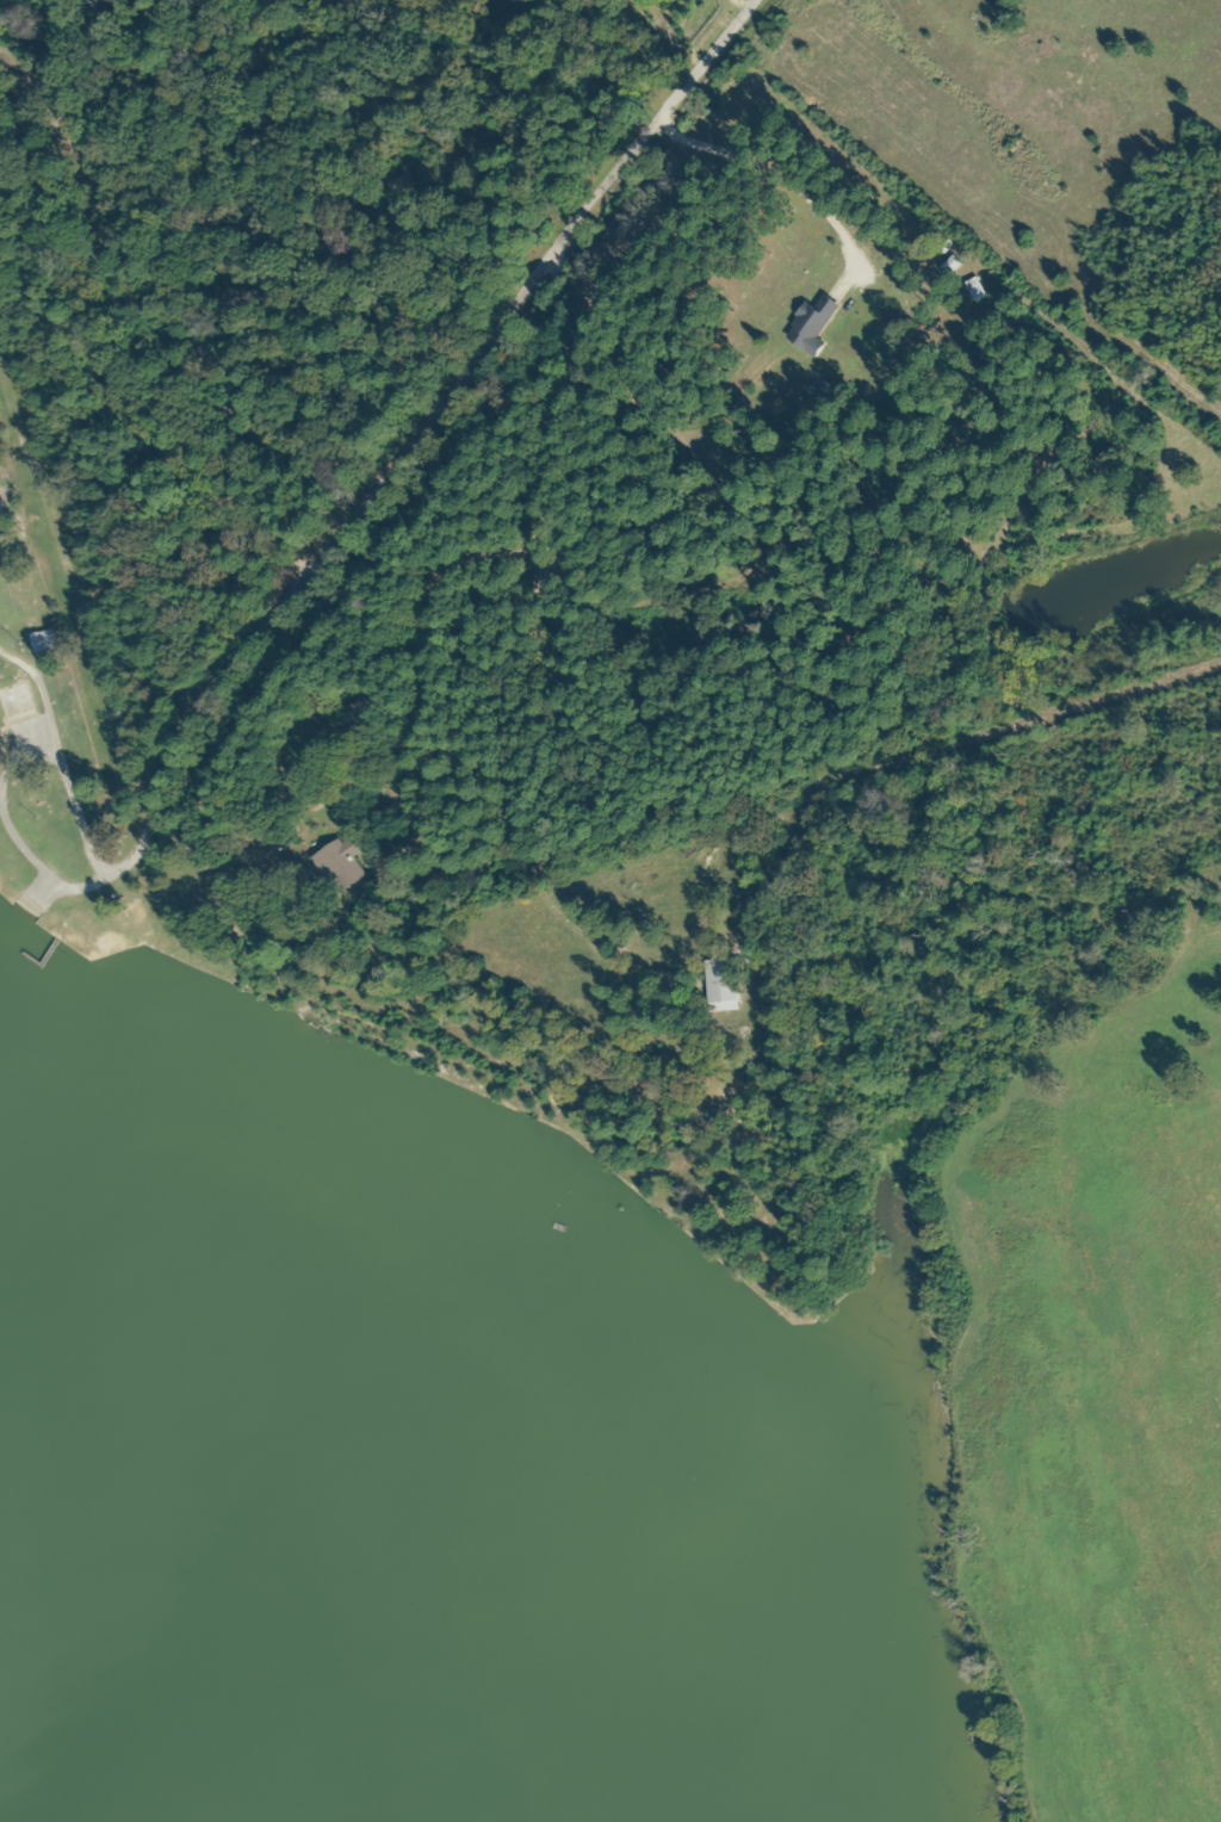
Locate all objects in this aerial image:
road: (615, 43)
road: (1167, 105)
road: (279, 134)
road: (215, 300)
road: (448, 401)
building: (42, 642)
building: (16, 704)
road: (420, 781)
building: (334, 862)
road: (323, 948)
building: (718, 985)

